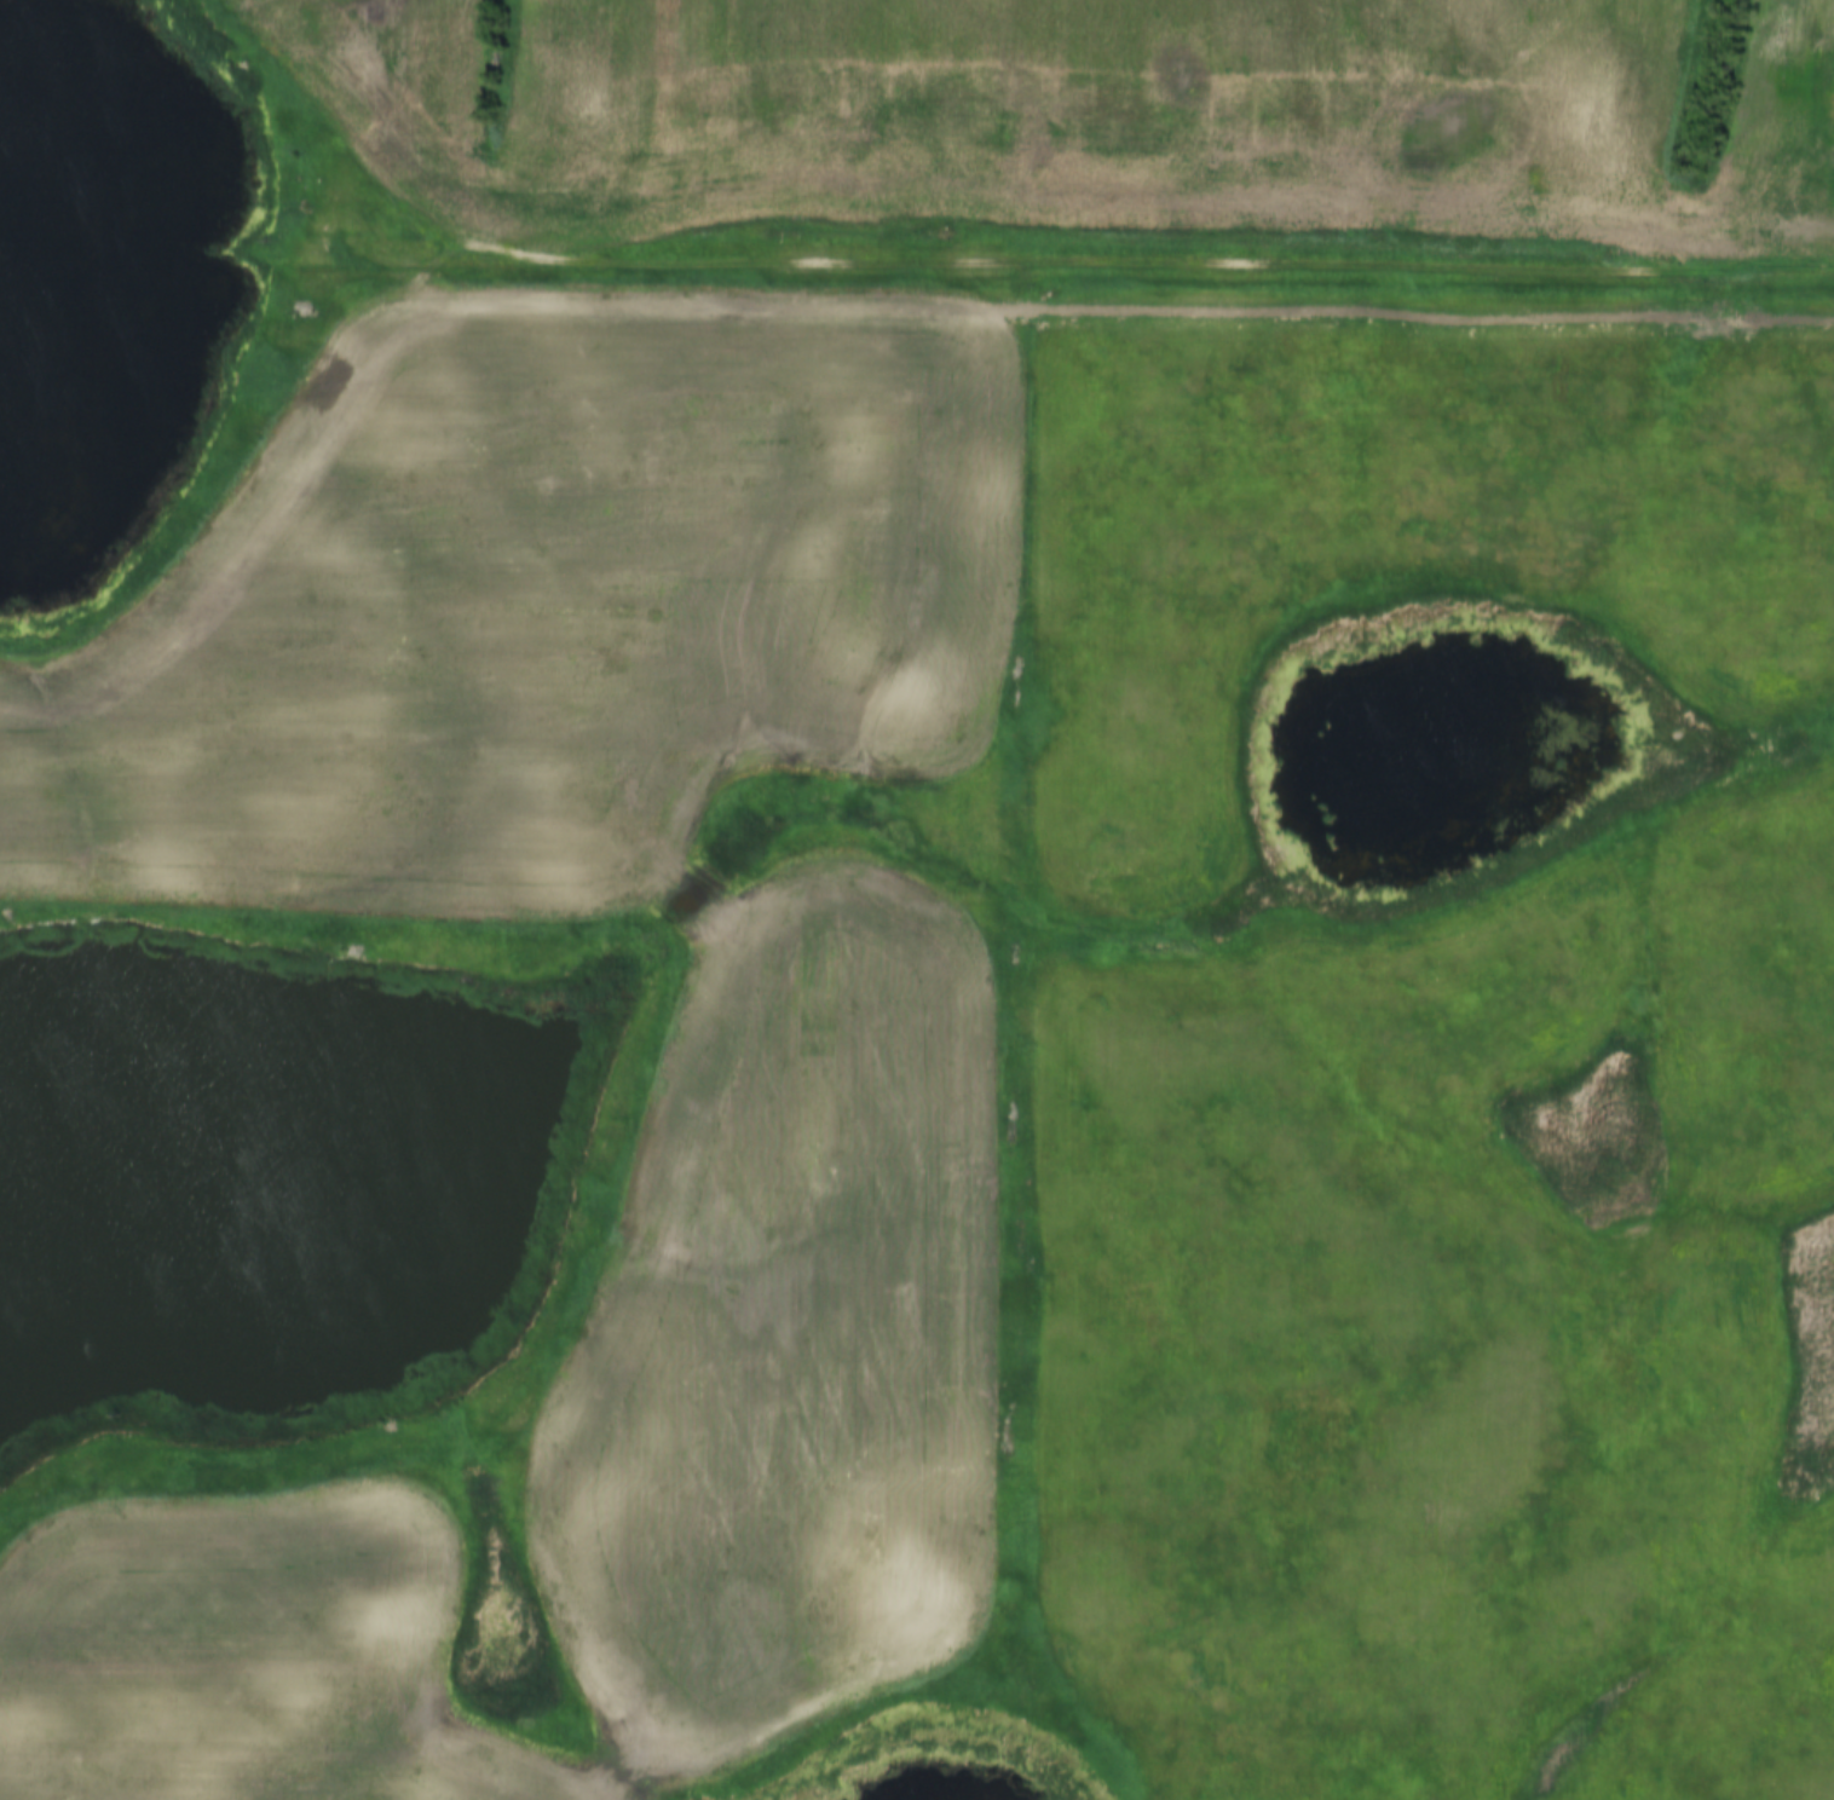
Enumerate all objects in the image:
road: (985, 264)

